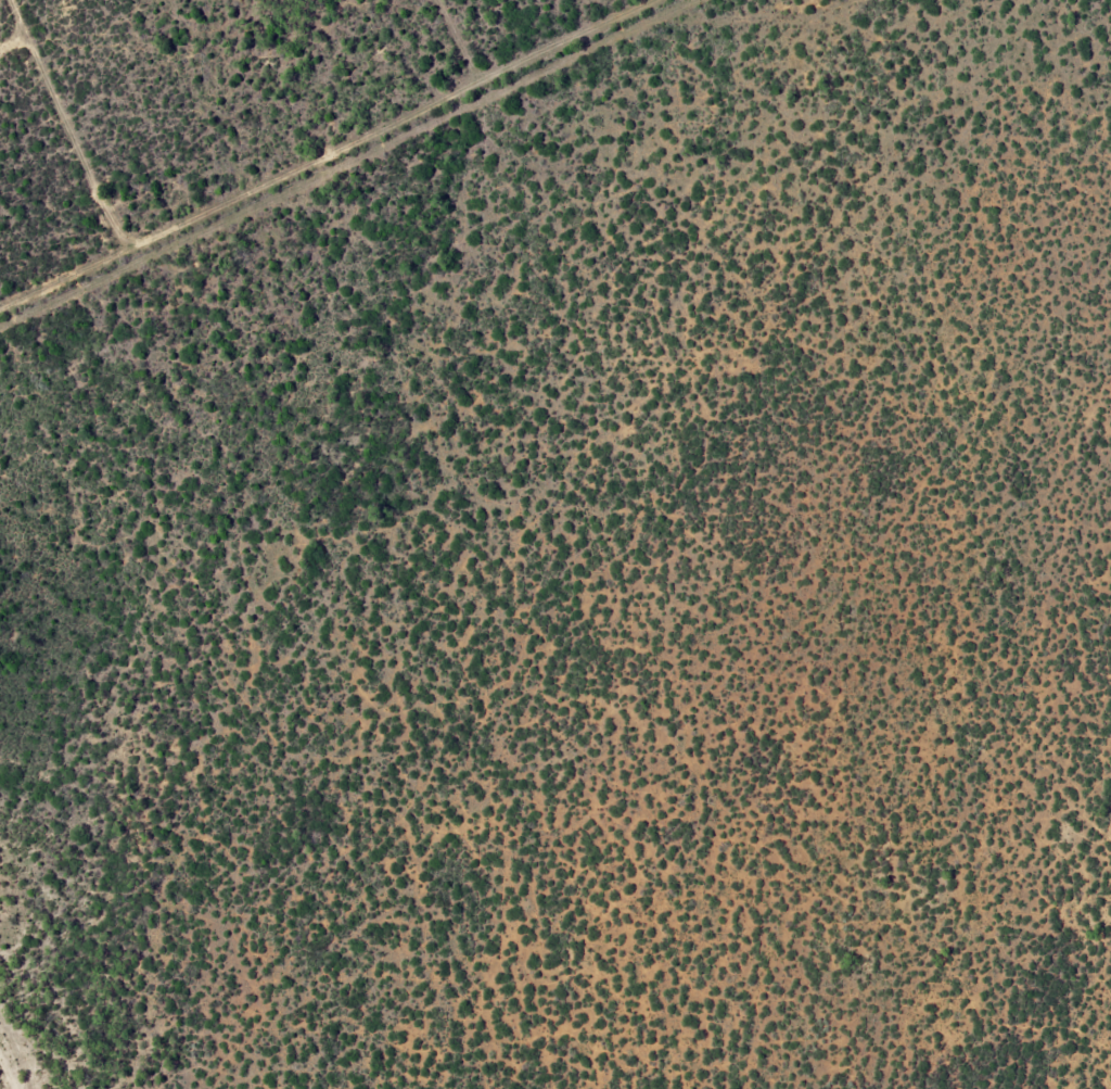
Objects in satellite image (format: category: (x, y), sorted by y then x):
road: (365, 179)

